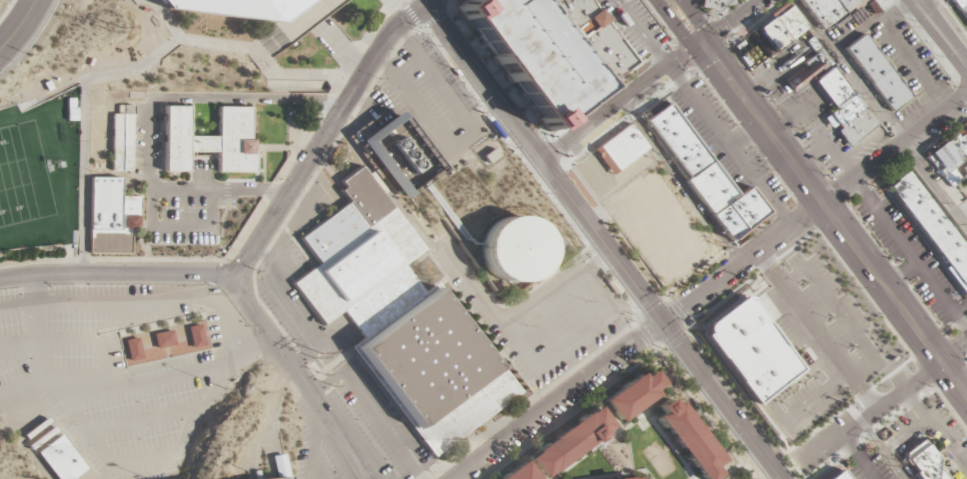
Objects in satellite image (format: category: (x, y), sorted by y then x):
road: (910, 0)
road: (910, 0)
road: (402, 1)
road: (427, 2)
building: (709, 4)
building: (879, 4)
road: (386, 5)
building: (961, 7)
building: (236, 8)
stadium: (236, 8)
road: (405, 8)
building: (826, 10)
road: (439, 14)
road: (165, 19)
road: (732, 22)
road: (949, 22)
road: (869, 24)
road: (19, 25)
parking lot: (632, 25)
road: (290, 26)
road: (375, 27)
power tower: (111, 28)
building: (777, 30)
road: (640, 33)
railway: (939, 34)
road: (939, 36)
building: (597, 37)
road: (31, 38)
railway: (439, 40)
traffic signals: (703, 44)
road: (342, 48)
road: (582, 49)
road: (528, 54)
building: (530, 54)
parking lot: (530, 54)
road: (262, 58)
road: (916, 64)
building: (807, 71)
building: (876, 72)
railway: (464, 79)
road: (340, 81)
road: (483, 82)
road: (641, 82)
building: (833, 88)
road: (746, 101)
road: (332, 110)
road: (147, 115)
road: (879, 116)
road: (83, 117)
road: (577, 119)
building: (855, 120)
road: (328, 127)
road: (504, 134)
building: (122, 138)
road: (467, 139)
building: (210, 140)
road: (563, 145)
road: (894, 148)
road: (265, 149)
road: (297, 149)
building: (622, 149)
building: (403, 156)
building: (950, 158)
railway: (531, 162)
park: (22, 176)
building: (710, 177)
road: (681, 181)
road: (309, 183)
parking lot: (178, 193)
road: (276, 194)
building: (110, 217)
road: (247, 225)
road: (181, 227)
building: (932, 228)
road: (260, 233)
building: (514, 249)
storage tank: (514, 249)
road: (590, 251)
road: (909, 255)
road: (595, 257)
parking lot: (912, 257)
road: (153, 260)
road: (40, 261)
road: (743, 262)
road: (578, 263)
road: (81, 266)
road: (580, 266)
road: (217, 272)
road: (900, 275)
road: (471, 283)
road: (539, 293)
road: (895, 300)
road: (580, 302)
road: (139, 303)
road: (509, 303)
road: (292, 309)
road: (661, 319)
building: (400, 320)
traffic signals: (663, 322)
road: (550, 324)
road: (36, 326)
road: (817, 330)
road: (268, 333)
road: (648, 335)
building: (196, 336)
road: (92, 339)
building: (165, 339)
road: (328, 339)
road: (575, 344)
road: (252, 347)
building: (134, 349)
building: (752, 350)
power tower: (313, 359)
road: (332, 364)
railway: (682, 364)
road: (308, 367)
road: (172, 373)
road: (568, 373)
power tower: (324, 374)
road: (50, 375)
parking lot: (110, 376)
road: (83, 392)
building: (633, 397)
road: (559, 400)
road: (884, 403)
road: (373, 409)
road: (572, 414)
road: (140, 420)
road: (652, 421)
road: (337, 433)
building: (689, 439)
road: (22, 440)
building: (571, 442)
road: (314, 443)
road: (600, 450)
road: (856, 457)
building: (61, 460)
building: (922, 462)
building: (277, 466)
road: (127, 468)
building: (520, 472)
road: (635, 472)
road: (686, 473)
road: (113, 474)
road: (563, 476)
building: (838, 476)
building: (282, 478)
stadium: (282, 478)
building: (623, 478)
building: (636, 478)
road: (780, 478)

